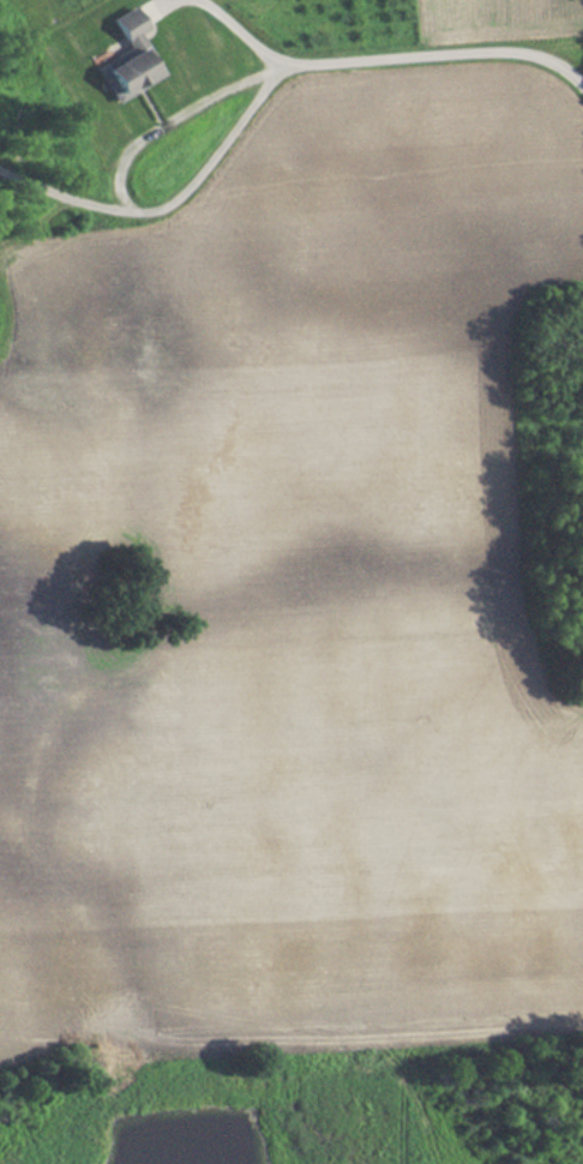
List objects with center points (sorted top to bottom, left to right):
road: (381, 56)
building: (124, 59)
road: (64, 194)
road: (126, 199)

